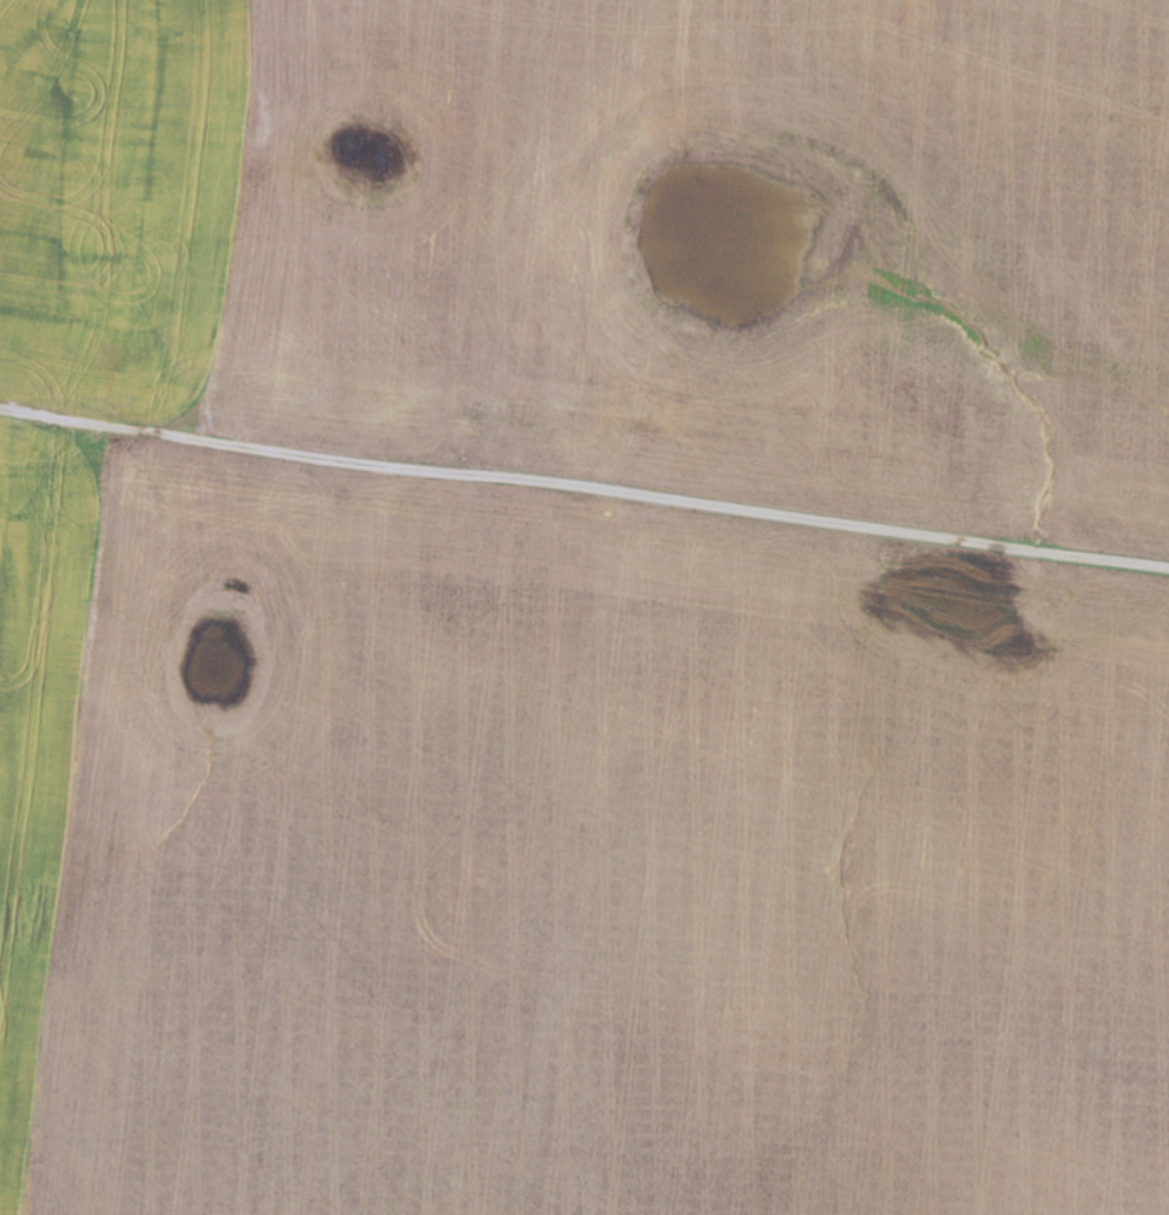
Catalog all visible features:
road: (580, 248)
road: (583, 500)
road: (710, 713)

